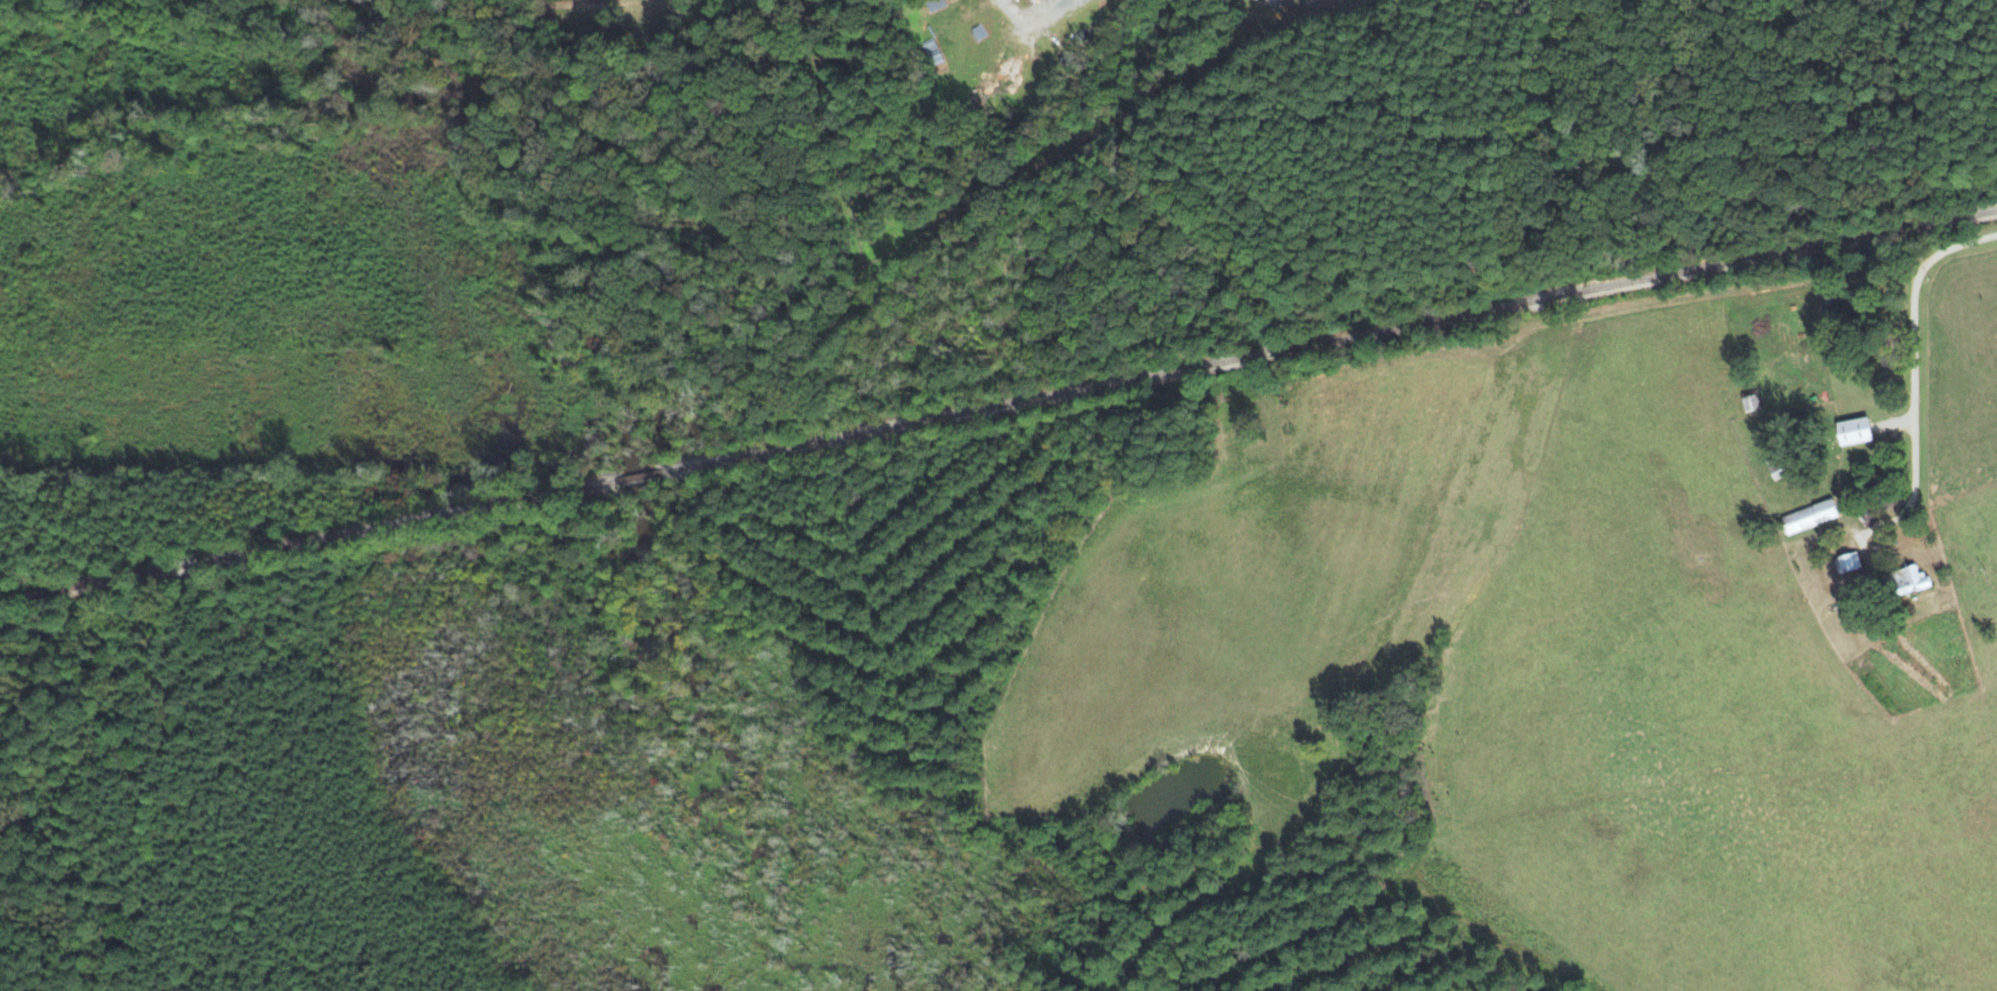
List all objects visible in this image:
road: (1914, 390)
railway: (998, 406)
building: (1855, 430)
building: (1778, 466)
building: (1810, 516)
building: (1848, 562)
building: (1909, 580)

